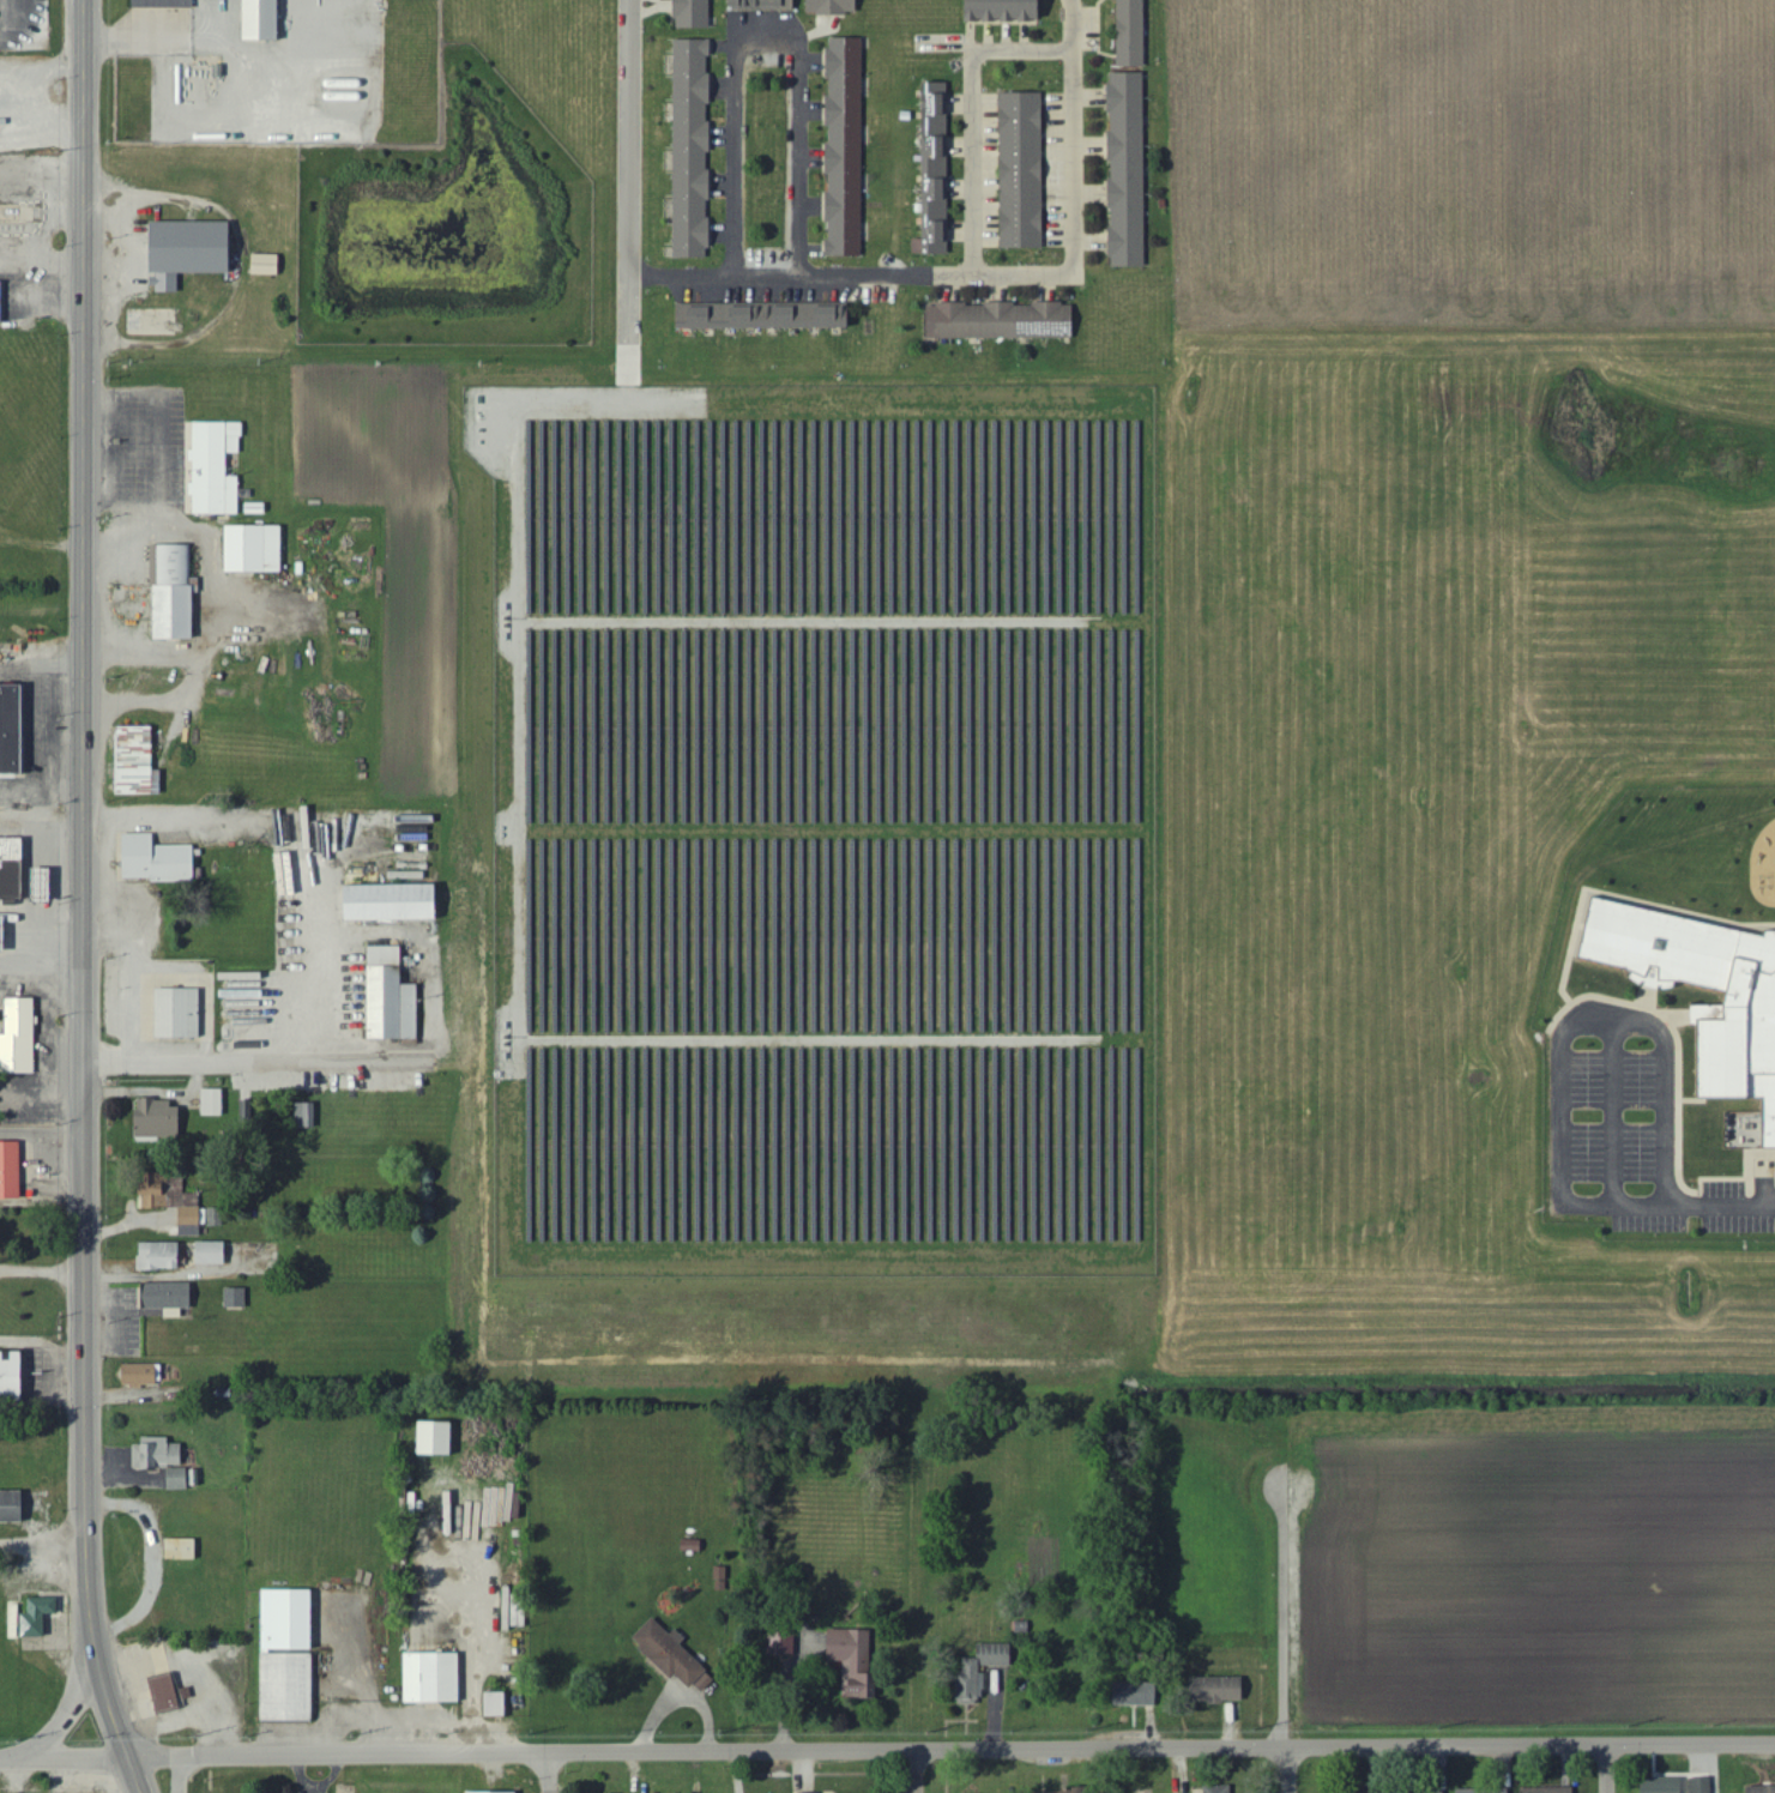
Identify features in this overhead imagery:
building: (163, 4)
building: (766, 5)
building: (833, 7)
building: (1006, 11)
building: (694, 14)
building: (264, 20)
road: (759, 34)
building: (1133, 34)
road: (1019, 44)
road: (41, 115)
road: (1070, 132)
building: (846, 147)
building: (693, 150)
road: (797, 153)
road: (730, 158)
road: (971, 159)
road: (624, 162)
road: (41, 169)
building: (936, 170)
building: (1024, 170)
building: (1128, 170)
building: (191, 252)
road: (41, 254)
building: (267, 265)
road: (846, 267)
building: (1, 303)
building: (765, 316)
building: (1002, 321)
building: (216, 467)
building: (255, 549)
building: (174, 593)
road: (40, 658)
building: (12, 731)
building: (139, 762)
road: (40, 779)
solar farm: (825, 829)
road: (107, 850)
building: (157, 861)
building: (12, 870)
road: (80, 900)
building: (394, 904)
building: (2, 935)
road: (129, 960)
building: (392, 998)
road: (40, 1007)
building: (180, 1014)
building: (1735, 1021)
road: (1559, 1034)
building: (19, 1039)
road: (273, 1055)
building: (213, 1103)
building: (247, 1111)
building: (307, 1116)
building: (159, 1121)
building: (11, 1170)
building: (155, 1191)
road: (1726, 1205)
building: (201, 1217)
road: (125, 1225)
building: (212, 1252)
building: (161, 1256)
building: (169, 1298)
building: (236, 1298)
road: (31, 1348)
building: (143, 1375)
building: (13, 1376)
road: (40, 1389)
building: (439, 1437)
building: (158, 1454)
building: (179, 1479)
building: (12, 1507)
building: (182, 1548)
road: (41, 1554)
building: (514, 1610)
building: (40, 1616)
building: (783, 1642)
building: (284, 1653)
building: (672, 1655)
building: (856, 1662)
building: (983, 1671)
building: (434, 1678)
building: (1219, 1690)
building: (168, 1694)
building: (1139, 1695)
road: (76, 1701)
building: (497, 1704)
road: (887, 1751)
road: (1607, 1769)
road: (1101, 1770)
road: (1287, 1770)
road: (914, 1771)
road: (550, 1773)
road: (179, 1774)
building: (1702, 1785)
building: (1664, 1786)
building: (1219, 1789)
building: (1762, 1789)
building: (1485, 1791)
building: (1548, 1791)
building: (491, 1792)
building: (1068, 1792)
building: (1371, 1792)
building: (1419, 1792)

